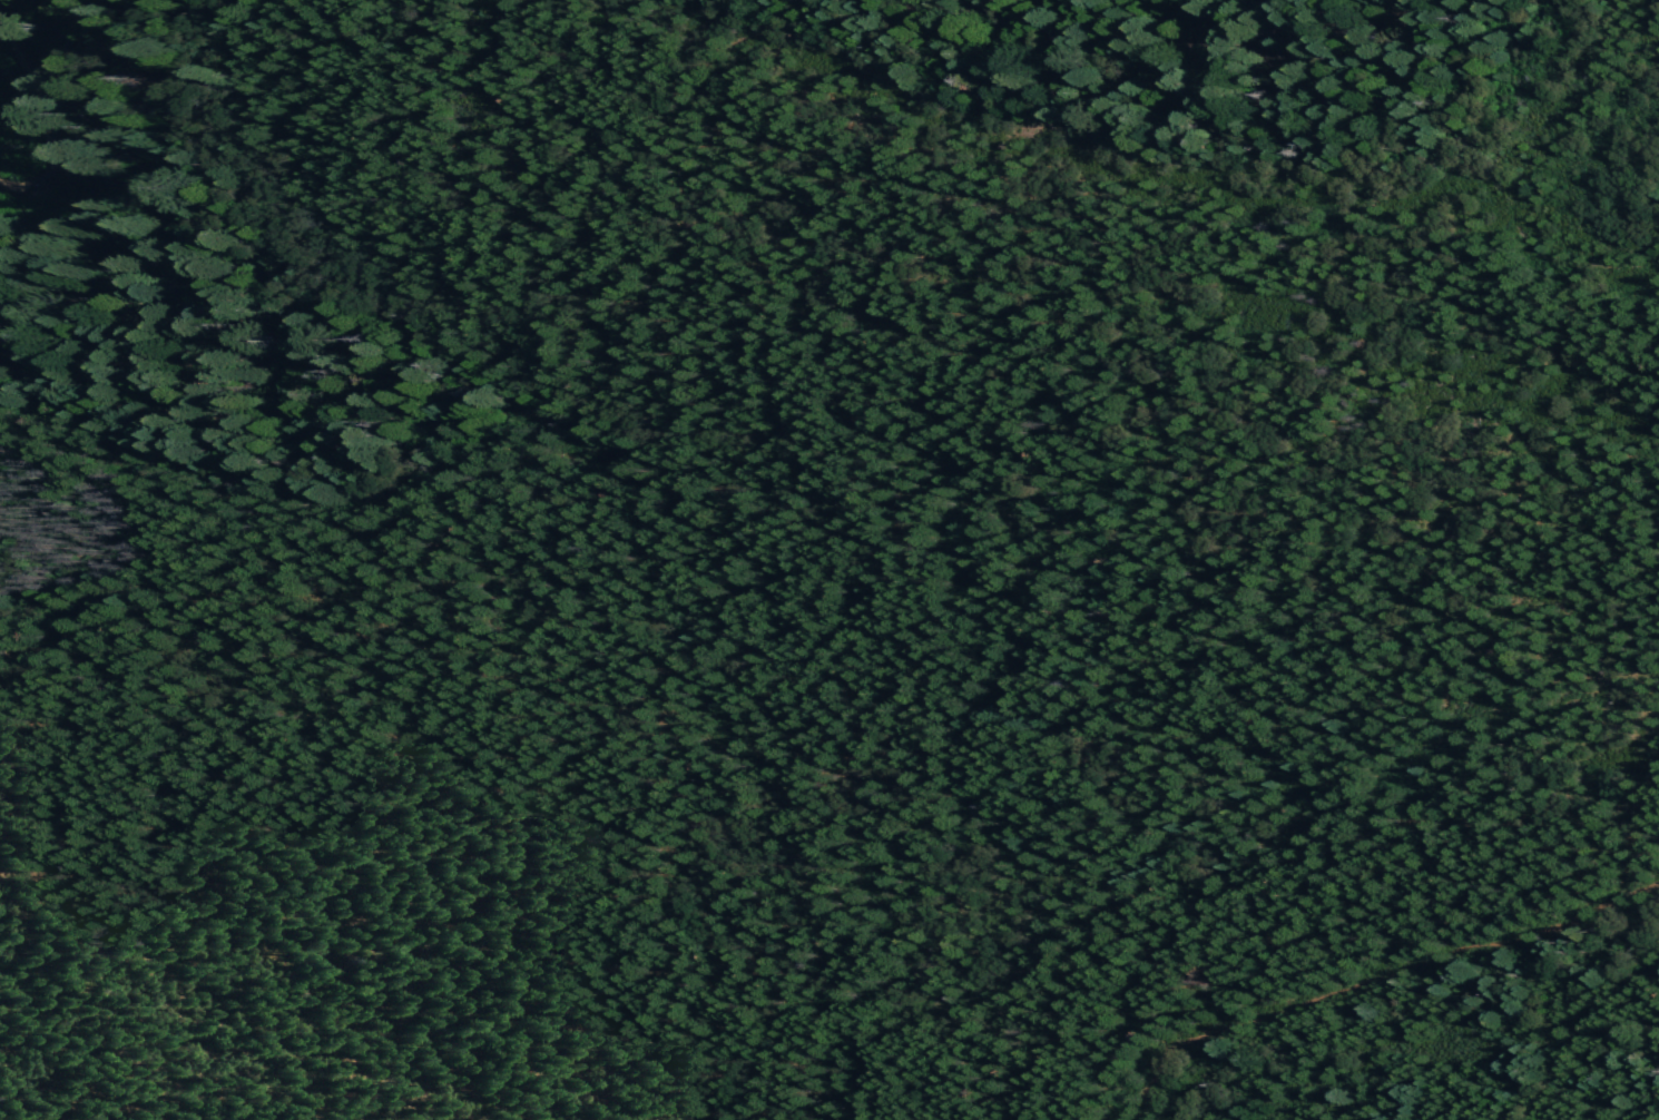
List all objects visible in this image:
road: (100, 69)
road: (730, 475)
road: (154, 610)
road: (1372, 981)

